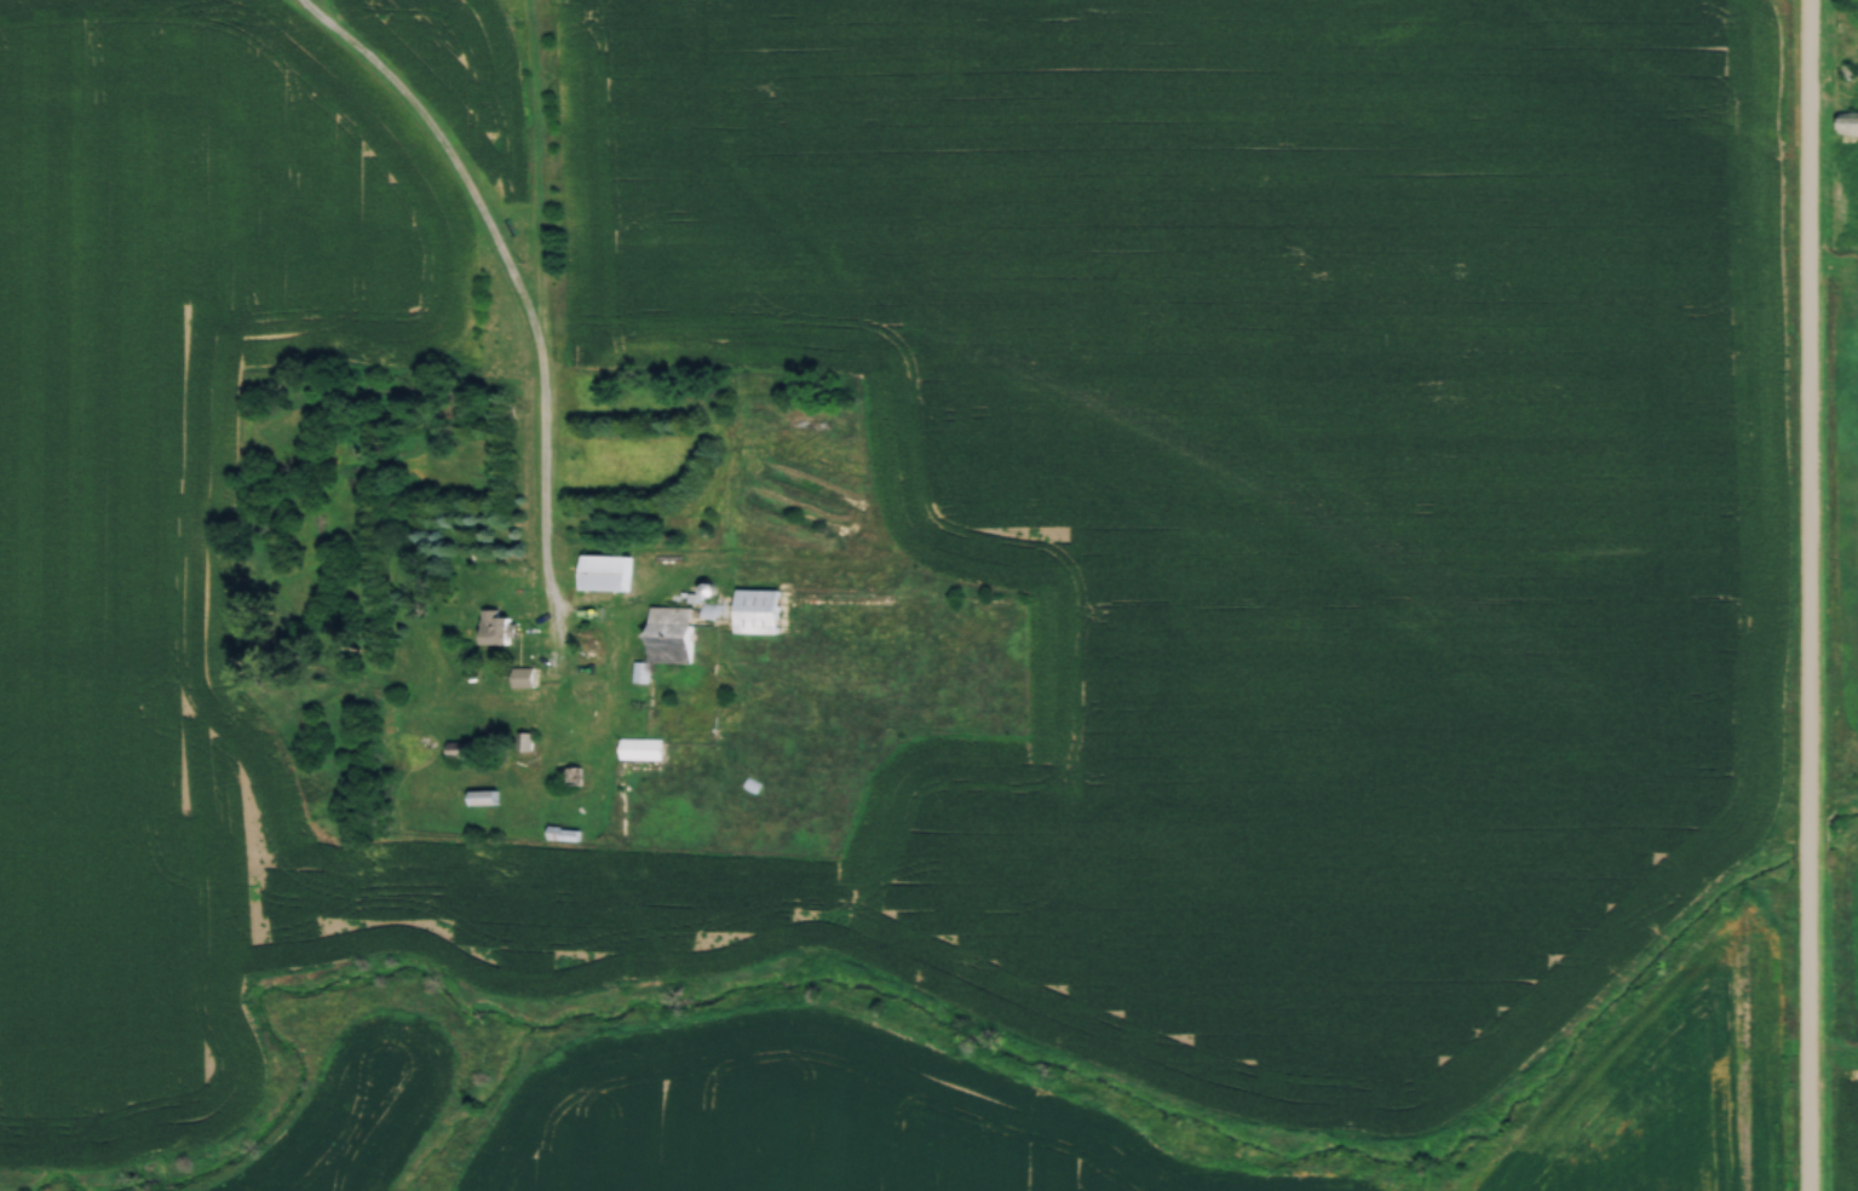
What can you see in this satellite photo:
building: (1848, 12)
building: (1848, 121)
road: (535, 310)
building: (605, 571)
road: (1806, 594)
building: (759, 610)
building: (499, 628)
building: (668, 638)
building: (640, 747)
building: (484, 796)

